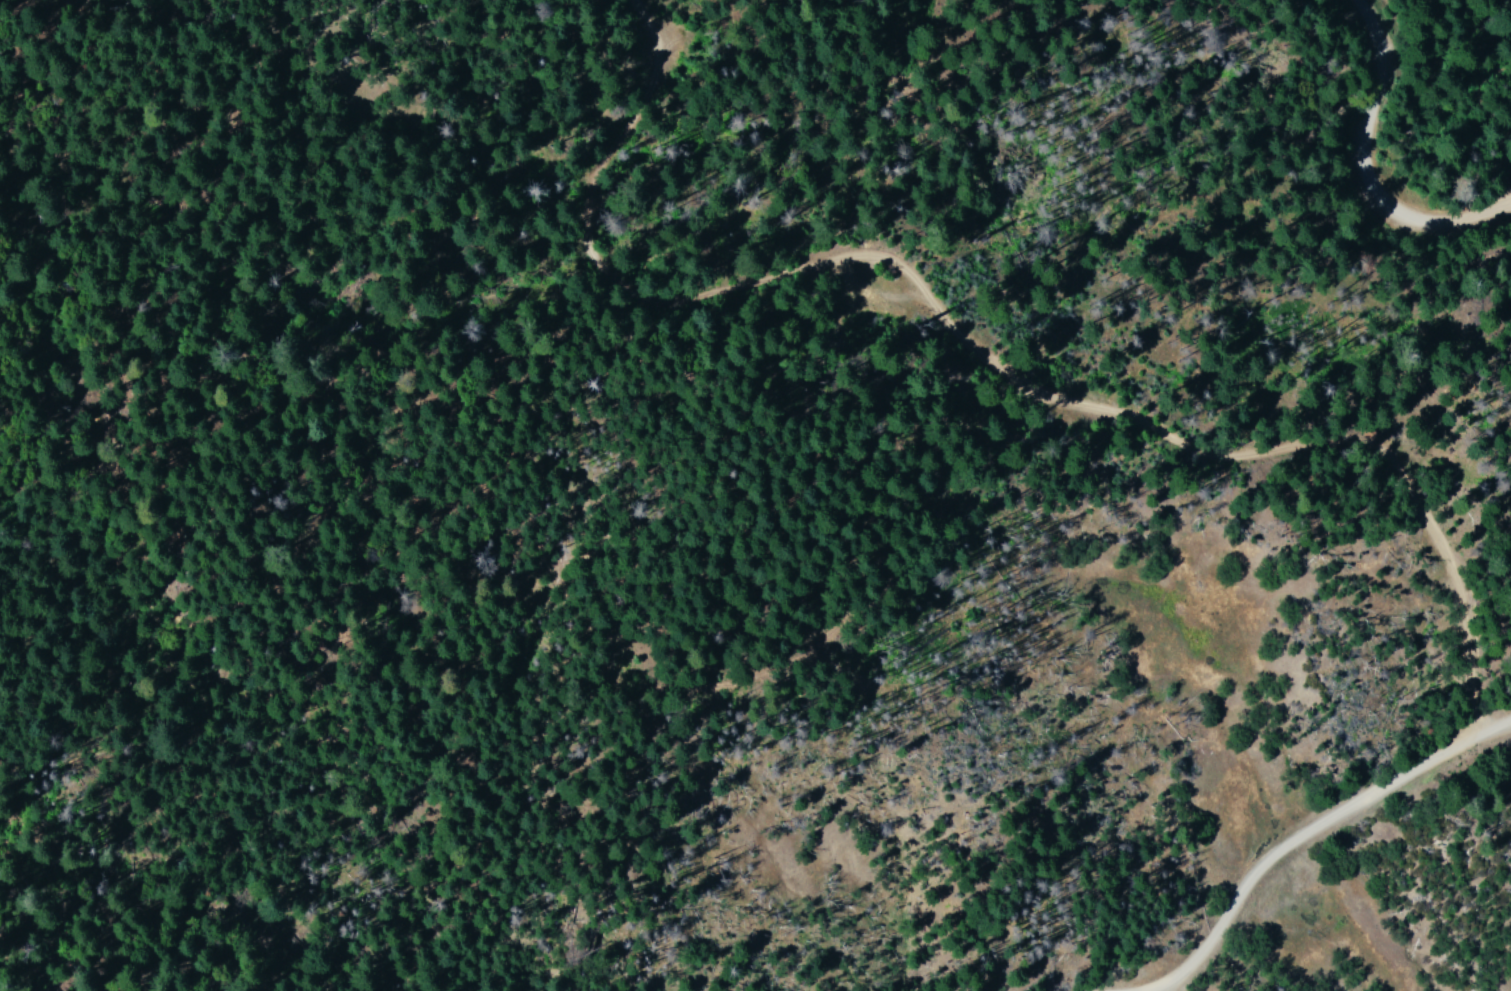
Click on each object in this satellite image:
road: (1408, 142)
road: (1331, 852)

